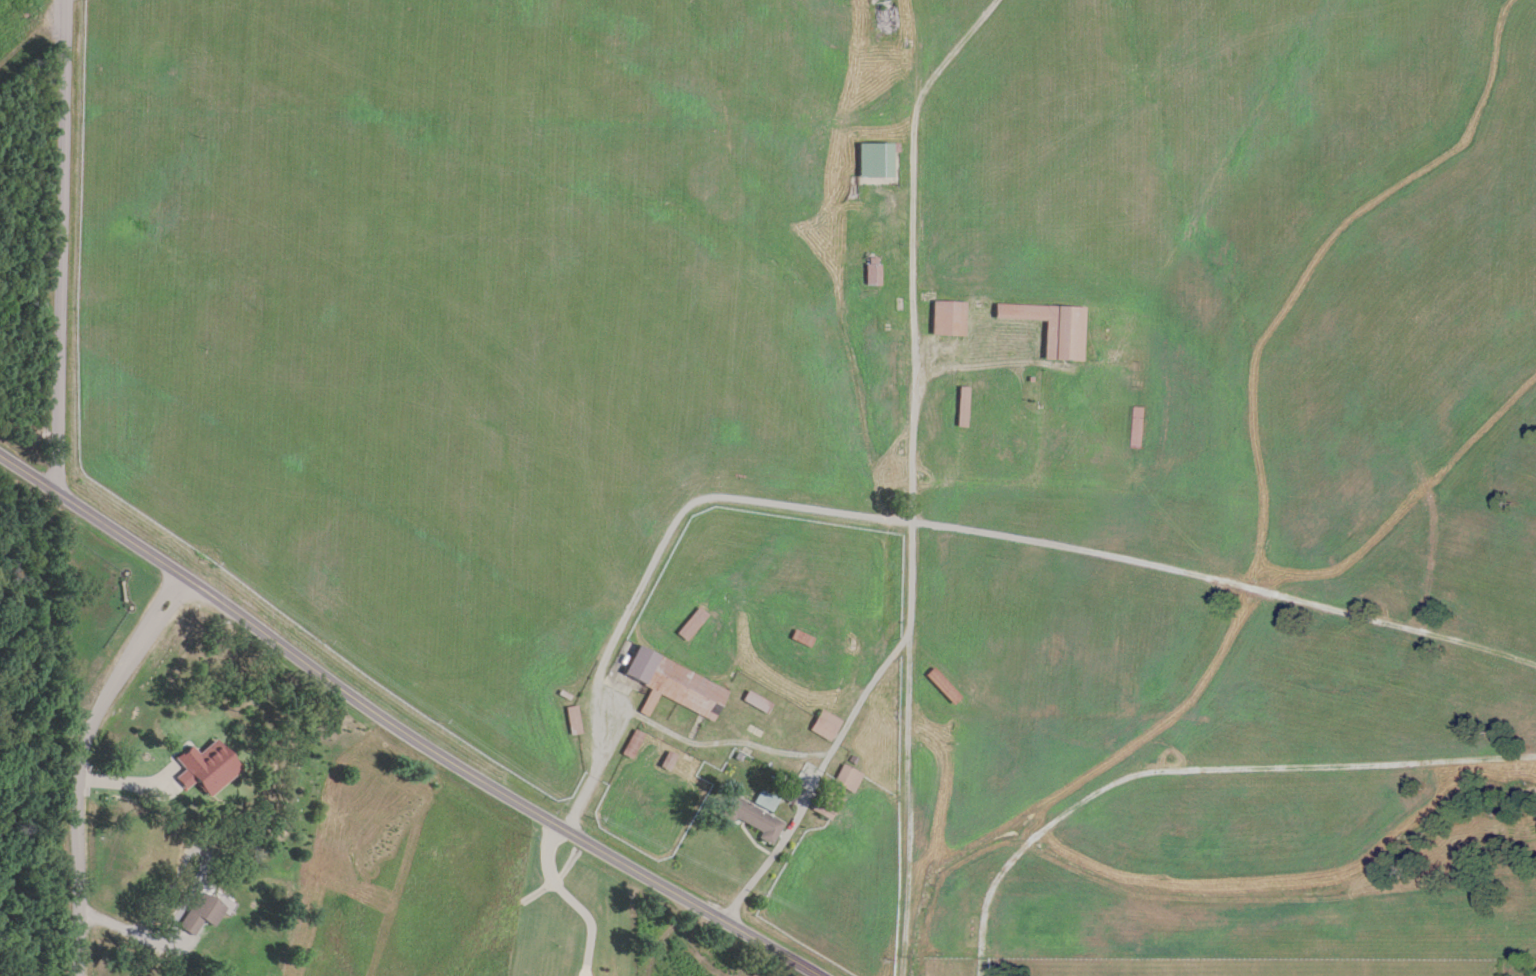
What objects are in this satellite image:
building: (876, 160)
road: (64, 243)
building: (872, 271)
building: (948, 318)
building: (1052, 328)
building: (900, 366)
building: (962, 407)
building: (1136, 427)
road: (901, 633)
building: (801, 638)
building: (940, 684)
building: (674, 685)
building: (755, 702)
building: (572, 720)
building: (824, 725)
road: (402, 728)
road: (1204, 729)
road: (78, 761)
building: (847, 778)
building: (824, 807)
building: (751, 818)
road: (1242, 882)
building: (949, 906)
building: (202, 913)
building: (1315, 922)
building: (961, 948)

